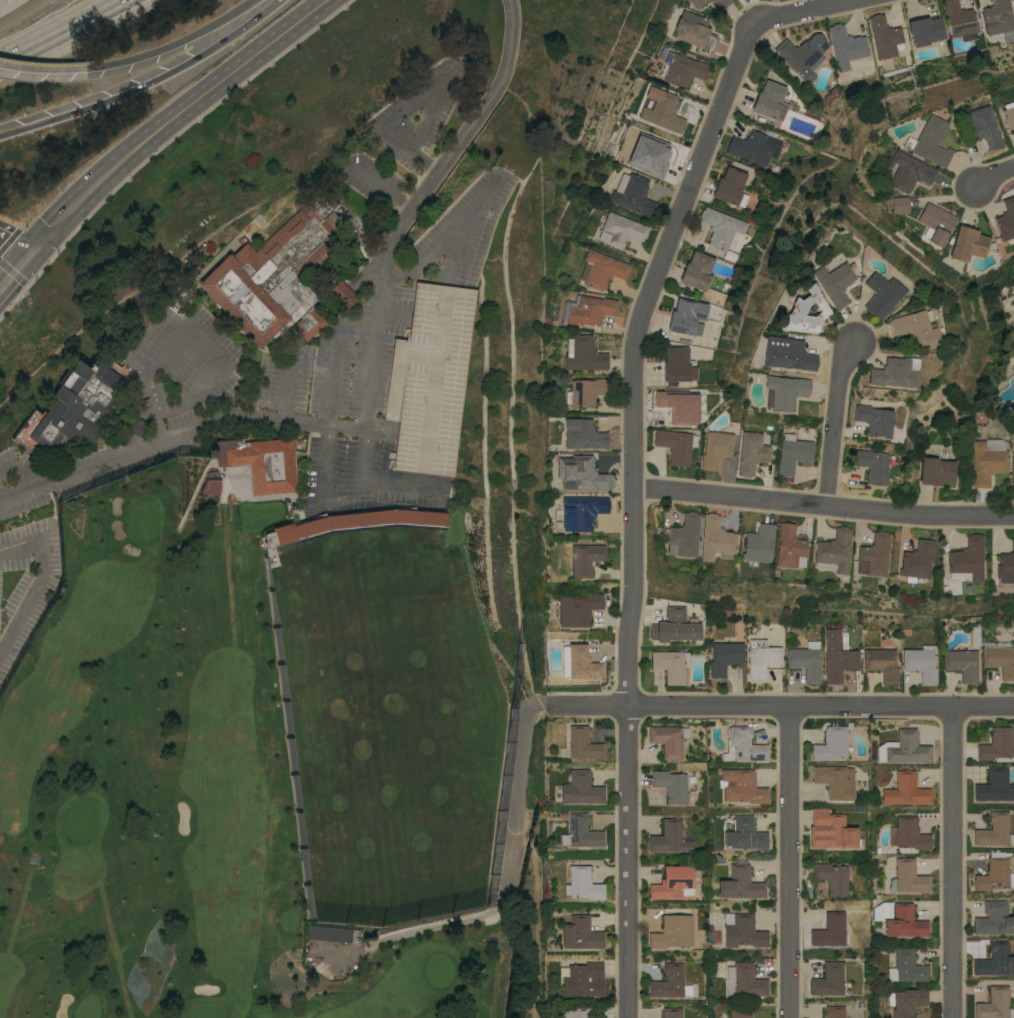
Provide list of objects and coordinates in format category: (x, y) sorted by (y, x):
road: (1, 0)
building: (709, 0)
building: (697, 2)
building: (721, 3)
building: (998, 17)
building: (959, 18)
road: (57, 29)
building: (925, 30)
building: (694, 32)
building: (884, 36)
road: (171, 44)
building: (846, 46)
building: (803, 55)
road: (41, 68)
building: (682, 68)
building: (775, 78)
road: (145, 83)
building: (770, 100)
road: (435, 103)
building: (660, 109)
building: (1009, 114)
road: (173, 120)
building: (983, 127)
building: (930, 141)
building: (755, 146)
building: (653, 150)
road: (421, 160)
building: (909, 171)
road: (994, 176)
building: (620, 182)
road: (377, 185)
building: (729, 185)
building: (634, 196)
road: (684, 200)
building: (900, 205)
building: (1006, 220)
road: (463, 221)
building: (936, 223)
building: (621, 228)
building: (722, 230)
road: (14, 240)
building: (968, 243)
traffic signals: (30, 252)
road: (428, 256)
road: (14, 269)
building: (601, 269)
building: (277, 274)
building: (701, 277)
building: (834, 283)
building: (343, 294)
building: (881, 294)
building: (798, 306)
building: (587, 309)
building: (687, 316)
road: (393, 317)
building: (914, 329)
building: (583, 354)
building: (789, 355)
road: (333, 358)
building: (678, 365)
building: (895, 372)
road: (396, 374)
road: (434, 378)
building: (430, 379)
parking lot: (430, 379)
road: (368, 383)
road: (202, 391)
building: (585, 391)
building: (785, 391)
building: (680, 403)
building: (70, 408)
building: (874, 419)
road: (835, 421)
building: (131, 423)
road: (135, 425)
road: (379, 428)
building: (583, 434)
road: (125, 444)
building: (676, 445)
building: (716, 448)
building: (751, 452)
building: (793, 454)
building: (988, 460)
building: (262, 464)
road: (321, 464)
building: (873, 464)
building: (936, 470)
road: (17, 471)
building: (580, 473)
road: (372, 485)
building: (209, 486)
road: (824, 504)
building: (582, 511)
building: (369, 520)
building: (278, 536)
building: (683, 536)
building: (715, 537)
building: (758, 543)
building: (789, 546)
building: (833, 551)
building: (873, 555)
building: (584, 557)
building: (916, 560)
building: (966, 560)
building: (1006, 565)
road: (36, 584)
building: (577, 608)
building: (675, 626)
building: (975, 635)
building: (724, 656)
building: (837, 656)
building: (1000, 656)
building: (762, 657)
building: (806, 660)
building: (582, 662)
building: (920, 662)
building: (882, 663)
building: (671, 664)
building: (962, 664)
road: (784, 704)
building: (668, 739)
building: (583, 743)
building: (831, 743)
building: (996, 743)
building: (743, 745)
building: (904, 748)
park: (265, 750)
road: (628, 752)
building: (835, 780)
building: (670, 784)
building: (742, 786)
building: (994, 786)
building: (580, 788)
building: (906, 790)
building: (831, 830)
building: (994, 830)
building: (581, 832)
building: (910, 833)
building: (744, 834)
building: (669, 837)
road: (791, 861)
road: (952, 861)
building: (994, 872)
building: (832, 877)
building: (907, 877)
road: (506, 879)
building: (582, 883)
building: (673, 883)
building: (740, 883)
building: (882, 910)
building: (994, 918)
building: (905, 921)
building: (829, 929)
building: (742, 930)
building: (580, 932)
building: (672, 933)
building: (327, 934)
building: (995, 960)
building: (906, 966)
building: (582, 978)
building: (829, 979)
building: (745, 980)
building: (669, 982)
building: (906, 1001)
building: (995, 1004)
building: (834, 1011)
building: (578, 1012)
building: (672, 1012)
building: (740, 1012)

